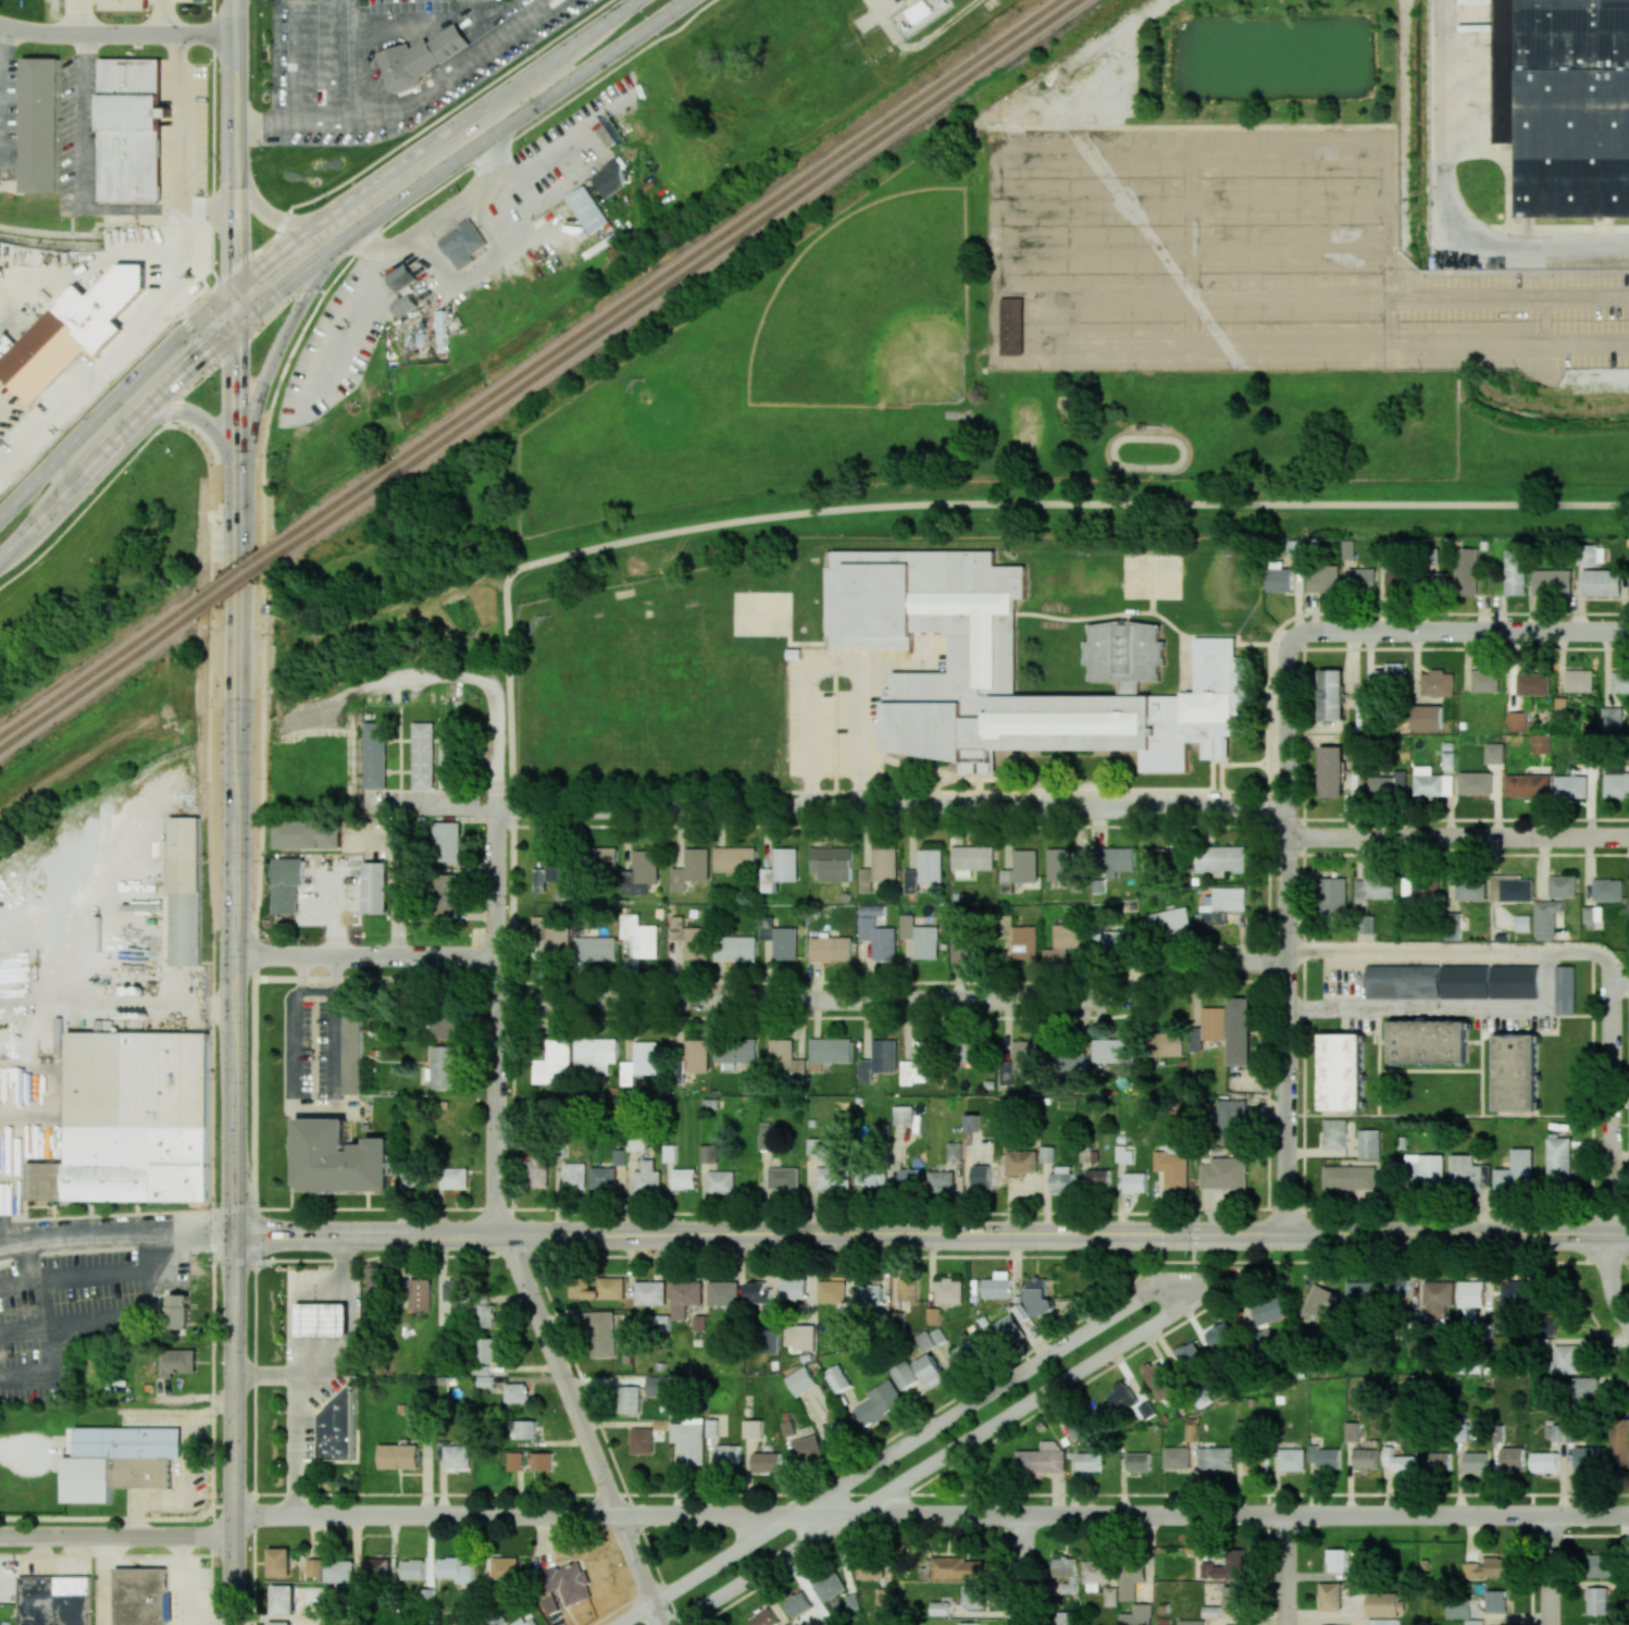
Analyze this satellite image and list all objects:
building: (905, 1)
building: (920, 12)
road: (885, 21)
road: (116, 34)
road: (358, 58)
road: (234, 60)
building: (408, 65)
road: (412, 103)
road: (521, 114)
road: (177, 122)
building: (42, 127)
building: (129, 129)
road: (235, 133)
road: (212, 139)
road: (435, 140)
road: (84, 168)
building: (610, 178)
road: (1448, 200)
building: (586, 209)
road: (217, 211)
road: (236, 214)
road: (268, 215)
road: (451, 219)
road: (283, 221)
building: (462, 244)
road: (90, 262)
railway: (667, 271)
railway: (676, 276)
building: (400, 277)
traffic signals: (237, 286)
road: (236, 305)
building: (403, 305)
traffic signals: (236, 323)
road: (1390, 324)
building: (1011, 325)
building: (72, 331)
road: (198, 339)
road: (235, 347)
road: (119, 348)
road: (271, 359)
road: (1603, 381)
road: (169, 384)
road: (277, 385)
road: (114, 397)
road: (236, 415)
road: (212, 424)
road: (1071, 503)
building: (1348, 549)
building: (1592, 554)
road: (236, 559)
building: (1466, 571)
railway: (236, 572)
building: (1515, 572)
park: (1149, 575)
building: (1323, 579)
building: (1361, 579)
building: (1280, 580)
building: (1395, 580)
building: (1438, 582)
building: (1552, 582)
building: (1602, 582)
railway: (237, 583)
road: (1459, 631)
road: (834, 663)
building: (1122, 663)
railway: (97, 667)
road: (411, 674)
building: (1391, 674)
railway: (99, 680)
building: (1484, 680)
building: (1578, 680)
building: (1620, 681)
building: (1437, 683)
building: (1532, 683)
road: (210, 689)
building: (1331, 694)
building: (1611, 717)
building: (1426, 718)
building: (1516, 721)
building: (1493, 753)
building: (376, 754)
building: (451, 754)
building: (424, 755)
building: (1447, 760)
building: (1331, 771)
building: (1431, 782)
building: (1475, 782)
building: (1616, 782)
building: (1388, 784)
building: (1527, 785)
building: (1569, 786)
road: (436, 808)
road: (890, 809)
building: (310, 834)
road: (1457, 838)
building: (448, 840)
building: (1162, 858)
building: (599, 859)
building: (734, 859)
building: (971, 859)
building: (1220, 859)
building: (831, 863)
building: (1109, 865)
building: (1065, 866)
building: (691, 868)
building: (780, 868)
building: (879, 869)
building: (924, 870)
building: (1019, 871)
building: (639, 872)
building: (551, 876)
building: (286, 883)
building: (377, 885)
building: (1562, 885)
building: (1375, 888)
building: (1420, 888)
building: (1470, 889)
building: (1510, 889)
building: (1607, 890)
building: (185, 891)
building: (447, 892)
building: (1334, 896)
building: (1222, 904)
building: (1593, 917)
building: (1545, 919)
road: (234, 921)
building: (1168, 921)
building: (1522, 922)
building: (1452, 926)
building: (876, 932)
road: (1286, 934)
building: (639, 935)
building: (1018, 936)
building: (920, 938)
building: (691, 939)
building: (780, 939)
building: (1109, 939)
building: (1065, 941)
building: (549, 945)
building: (735, 947)
building: (595, 948)
building: (831, 948)
building: (963, 950)
road: (1456, 951)
road: (363, 955)
road: (495, 960)
road: (463, 975)
road: (1618, 977)
building: (1398, 981)
building: (1465, 981)
building: (1515, 981)
building: (1565, 990)
road: (90, 998)
road: (893, 1000)
road: (1447, 1012)
building: (445, 1027)
building: (1207, 1028)
building: (1240, 1031)
building: (1429, 1041)
building: (1168, 1043)
building: (967, 1047)
building: (1111, 1050)
building: (829, 1052)
building: (734, 1053)
building: (351, 1054)
building: (594, 1055)
building: (696, 1055)
building: (879, 1059)
building: (551, 1060)
building: (784, 1060)
building: (1069, 1060)
building: (639, 1062)
building: (1020, 1064)
building: (917, 1065)
building: (443, 1067)
building: (677, 1070)
building: (1342, 1071)
building: (1517, 1072)
road: (1608, 1105)
road: (312, 1106)
building: (903, 1115)
building: (133, 1120)
building: (1231, 1120)
building: (880, 1130)
building: (1334, 1133)
building: (636, 1141)
building: (1368, 1143)
building: (818, 1145)
building: (954, 1151)
building: (669, 1153)
building: (708, 1153)
building: (1124, 1153)
building: (1046, 1154)
building: (1089, 1154)
building: (619, 1156)
building: (340, 1158)
building: (1558, 1161)
building: (1021, 1162)
building: (537, 1168)
building: (1173, 1168)
building: (1427, 1170)
building: (1516, 1170)
building: (1223, 1173)
building: (1467, 1173)
building: (573, 1175)
building: (981, 1176)
building: (602, 1177)
building: (832, 1177)
building: (871, 1177)
building: (1350, 1177)
building: (413, 1178)
building: (455, 1178)
building: (646, 1178)
building: (683, 1178)
building: (783, 1178)
building: (907, 1178)
building: (1098, 1178)
building: (1061, 1179)
building: (720, 1181)
building: (941, 1181)
building: (1135, 1182)
road: (932, 1232)
traffic signals: (235, 1233)
road: (116, 1235)
road: (34, 1262)
road: (341, 1268)
road: (110, 1275)
building: (375, 1278)
road: (1609, 1280)
building: (996, 1285)
road: (18, 1286)
building: (1396, 1287)
building: (794, 1288)
building: (600, 1289)
building: (907, 1289)
building: (455, 1290)
building: (831, 1291)
building: (948, 1291)
building: (757, 1292)
building: (1516, 1292)
building: (650, 1293)
building: (722, 1293)
building: (420, 1294)
building: (870, 1294)
building: (1361, 1294)
building: (1040, 1297)
building: (684, 1298)
building: (1470, 1298)
building: (1437, 1299)
building: (1320, 1302)
building: (178, 1311)
building: (484, 1311)
building: (1268, 1311)
building: (932, 1315)
building: (896, 1318)
building: (323, 1320)
road: (339, 1320)
building: (662, 1323)
building: (699, 1323)
building: (1544, 1326)
building: (1007, 1328)
building: (600, 1332)
building: (1220, 1335)
building: (937, 1336)
building: (771, 1340)
building: (924, 1340)
building: (487, 1350)
road: (45, 1351)
building: (967, 1352)
building: (1187, 1353)
building: (1565, 1360)
building: (177, 1362)
building: (481, 1369)
building: (930, 1370)
building: (904, 1375)
building: (1154, 1375)
road: (306, 1378)
building: (837, 1378)
building: (800, 1380)
building: (486, 1381)
building: (658, 1386)
building: (1586, 1390)
building: (515, 1392)
building: (1120, 1397)
building: (629, 1399)
building: (880, 1403)
road: (579, 1418)
road: (233, 1428)
building: (753, 1428)
building: (338, 1429)
building: (523, 1429)
building: (1191, 1429)
building: (1352, 1430)
building: (838, 1432)
building: (689, 1439)
building: (642, 1440)
building: (1619, 1443)
road: (901, 1446)
road: (300, 1447)
building: (807, 1448)
road: (212, 1454)
building: (726, 1454)
building: (1325, 1456)
building: (1512, 1456)
building: (400, 1457)
building: (458, 1457)
building: (1177, 1457)
building: (1216, 1457)
building: (1041, 1459)
building: (1365, 1459)
building: (1590, 1459)
building: (1291, 1460)
building: (540, 1461)
road: (934, 1461)
building: (1255, 1461)
building: (1398, 1461)
building: (515, 1462)
building: (766, 1462)
building: (1087, 1462)
building: (1137, 1462)
building: (1439, 1462)
building: (1476, 1462)
building: (1544, 1462)
building: (90, 1481)
road: (542, 1515)
road: (1240, 1515)
road: (116, 1535)
building: (1336, 1560)
building: (278, 1562)
building: (1602, 1565)
building: (1223, 1566)
building: (314, 1567)
building: (376, 1567)
building: (1488, 1567)
building: (412, 1568)
building: (505, 1568)
building: (952, 1568)
building: (455, 1570)
building: (870, 1570)
road: (1021, 1570)
road: (1284, 1570)
road: (1547, 1570)
building: (339, 1571)
building: (1066, 1574)
building: (1096, 1574)
building: (1130, 1579)
building: (564, 1585)
building: (829, 1586)
building: (140, 1596)
building: (1110, 1596)
building: (1232, 1596)
building: (1329, 1596)
building: (972, 1597)
building: (282, 1599)
building: (54, 1600)
building: (1596, 1600)
building: (1495, 1601)
building: (797, 1603)
building: (1381, 1604)
building: (938, 1608)
building: (1458, 1609)
building: (1210, 1611)
road: (655, 1614)
building: (1136, 1615)
building: (764, 1617)
building: (1065, 1617)
building: (523, 1622)
building: (1191, 1622)
building: (1382, 1622)
building: (1475, 1622)
building: (278, 1623)
building: (968, 1623)
building: (1601, 1623)

